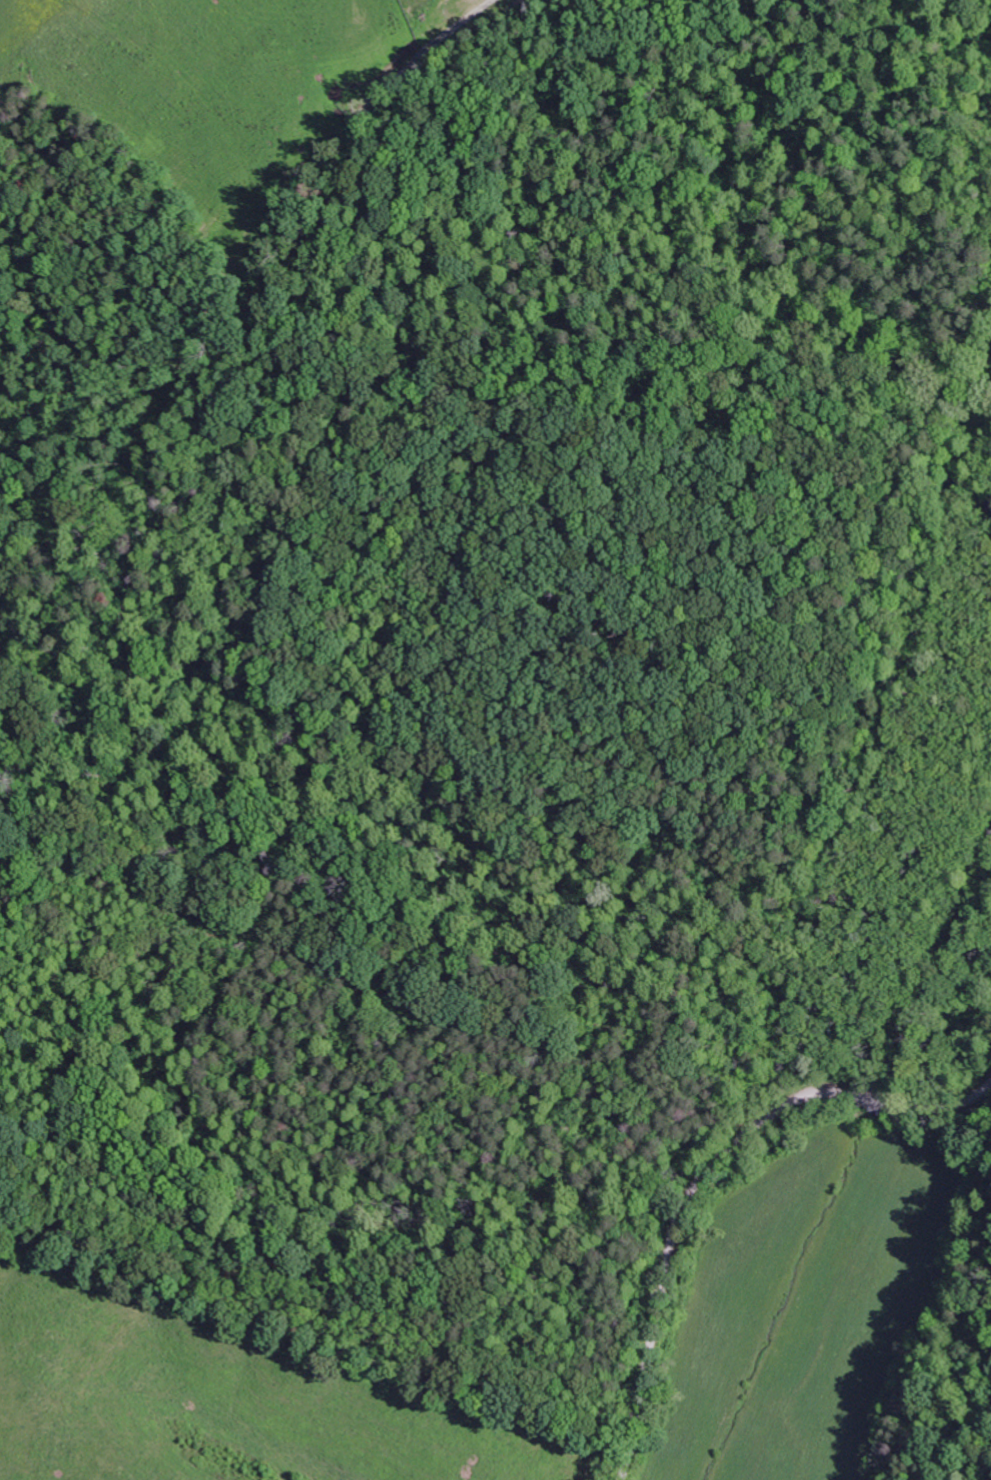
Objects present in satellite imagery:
road: (708, 1173)

